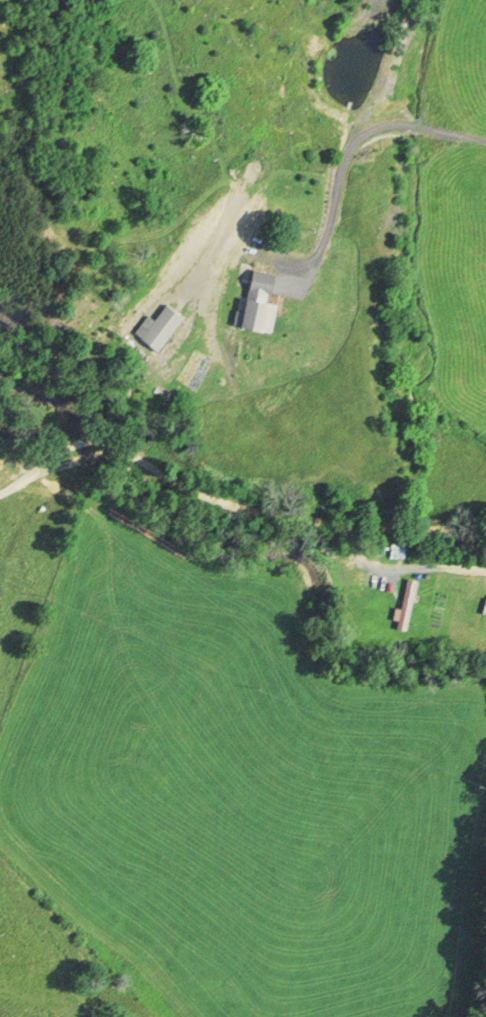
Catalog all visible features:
road: (350, 148)
building: (255, 299)
building: (158, 328)
road: (228, 500)
building: (405, 604)

